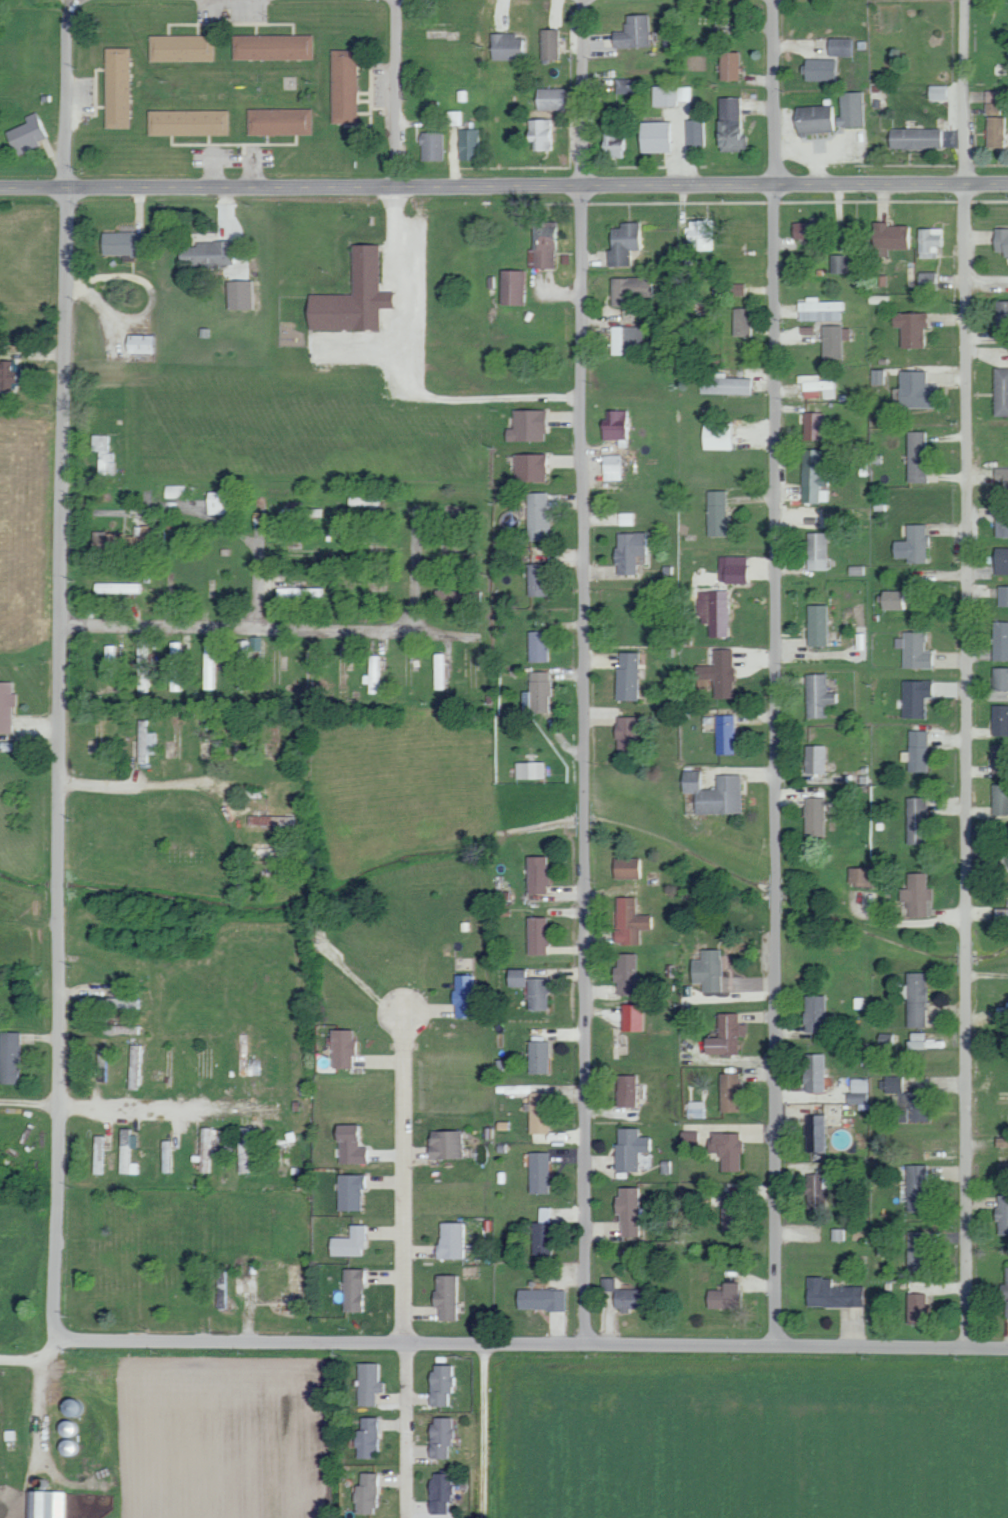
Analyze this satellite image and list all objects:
road: (68, 0)
road: (69, 0)
building: (630, 32)
building: (548, 44)
building: (840, 46)
building: (276, 47)
building: (504, 47)
building: (185, 48)
building: (727, 65)
building: (820, 70)
building: (342, 86)
building: (121, 88)
road: (966, 91)
road: (62, 92)
road: (395, 92)
road: (583, 92)
road: (773, 92)
building: (936, 92)
building: (670, 95)
building: (547, 98)
building: (992, 102)
building: (831, 114)
building: (453, 117)
building: (284, 121)
building: (192, 123)
building: (728, 125)
building: (994, 132)
building: (539, 133)
building: (31, 135)
building: (652, 136)
building: (913, 138)
building: (613, 143)
building: (466, 144)
building: (429, 146)
road: (504, 184)
building: (802, 230)
building: (700, 234)
building: (890, 237)
building: (1000, 241)
building: (929, 242)
building: (543, 243)
building: (128, 244)
building: (621, 244)
building: (212, 254)
building: (926, 281)
building: (511, 287)
building: (628, 289)
building: (736, 289)
building: (244, 295)
building: (350, 296)
building: (819, 309)
building: (1001, 311)
building: (740, 322)
building: (909, 328)
building: (625, 340)
building: (832, 341)
building: (147, 344)
road: (987, 350)
road: (397, 375)
building: (876, 376)
building: (10, 377)
building: (723, 384)
building: (816, 387)
building: (914, 390)
building: (1000, 391)
building: (525, 425)
building: (812, 427)
building: (716, 435)
building: (103, 454)
building: (915, 456)
building: (528, 466)
building: (611, 466)
building: (811, 477)
building: (1001, 478)
building: (714, 512)
building: (537, 515)
building: (1000, 526)
building: (910, 544)
building: (814, 550)
building: (627, 551)
building: (1000, 560)
road: (254, 564)
road: (411, 568)
building: (536, 579)
building: (124, 587)
road: (366, 590)
building: (299, 594)
building: (887, 599)
building: (712, 612)
road: (238, 624)
building: (815, 624)
road: (443, 632)
building: (999, 640)
building: (537, 646)
building: (247, 649)
building: (911, 650)
building: (112, 662)
building: (176, 666)
building: (210, 666)
building: (440, 670)
building: (717, 672)
building: (374, 674)
building: (625, 675)
building: (538, 691)
building: (815, 695)
building: (912, 697)
building: (5, 706)
building: (999, 719)
building: (724, 734)
building: (624, 736)
building: (147, 741)
building: (915, 751)
building: (812, 759)
road: (60, 761)
road: (581, 761)
road: (774, 763)
road: (965, 763)
building: (528, 770)
road: (271, 771)
road: (144, 782)
building: (999, 798)
road: (231, 815)
building: (813, 816)
building: (915, 820)
building: (270, 821)
park: (987, 859)
building: (625, 867)
building: (534, 874)
building: (915, 894)
building: (628, 921)
building: (534, 935)
building: (706, 970)
building: (624, 973)
building: (514, 977)
building: (535, 994)
building: (462, 996)
building: (914, 998)
building: (120, 1002)
building: (814, 1016)
building: (629, 1017)
building: (723, 1035)
building: (916, 1040)
building: (348, 1047)
building: (12, 1057)
building: (536, 1057)
building: (812, 1073)
building: (896, 1083)
building: (859, 1085)
building: (624, 1090)
building: (728, 1092)
building: (857, 1098)
road: (28, 1105)
building: (694, 1109)
road: (169, 1113)
building: (898, 1114)
building: (813, 1133)
building: (687, 1135)
building: (1000, 1141)
building: (357, 1144)
building: (452, 1144)
building: (627, 1148)
building: (210, 1149)
building: (725, 1149)
building: (130, 1153)
building: (102, 1164)
building: (538, 1172)
building: (816, 1188)
building: (916, 1188)
building: (354, 1191)
building: (730, 1210)
building: (1001, 1214)
building: (541, 1232)
building: (837, 1234)
building: (458, 1240)
building: (355, 1242)
building: (916, 1249)
road: (404, 1265)
building: (359, 1289)
building: (1004, 1292)
building: (830, 1294)
building: (623, 1295)
building: (722, 1296)
building: (453, 1297)
building: (539, 1299)
building: (914, 1308)
road: (530, 1342)
road: (32, 1358)
building: (374, 1383)
building: (446, 1383)
building: (76, 1428)
road: (485, 1430)
crop: (219, 1434)
crop: (750, 1436)
building: (446, 1437)
building: (373, 1438)
road: (40, 1441)
building: (75, 1447)
building: (372, 1492)
building: (446, 1492)
building: (50, 1504)

